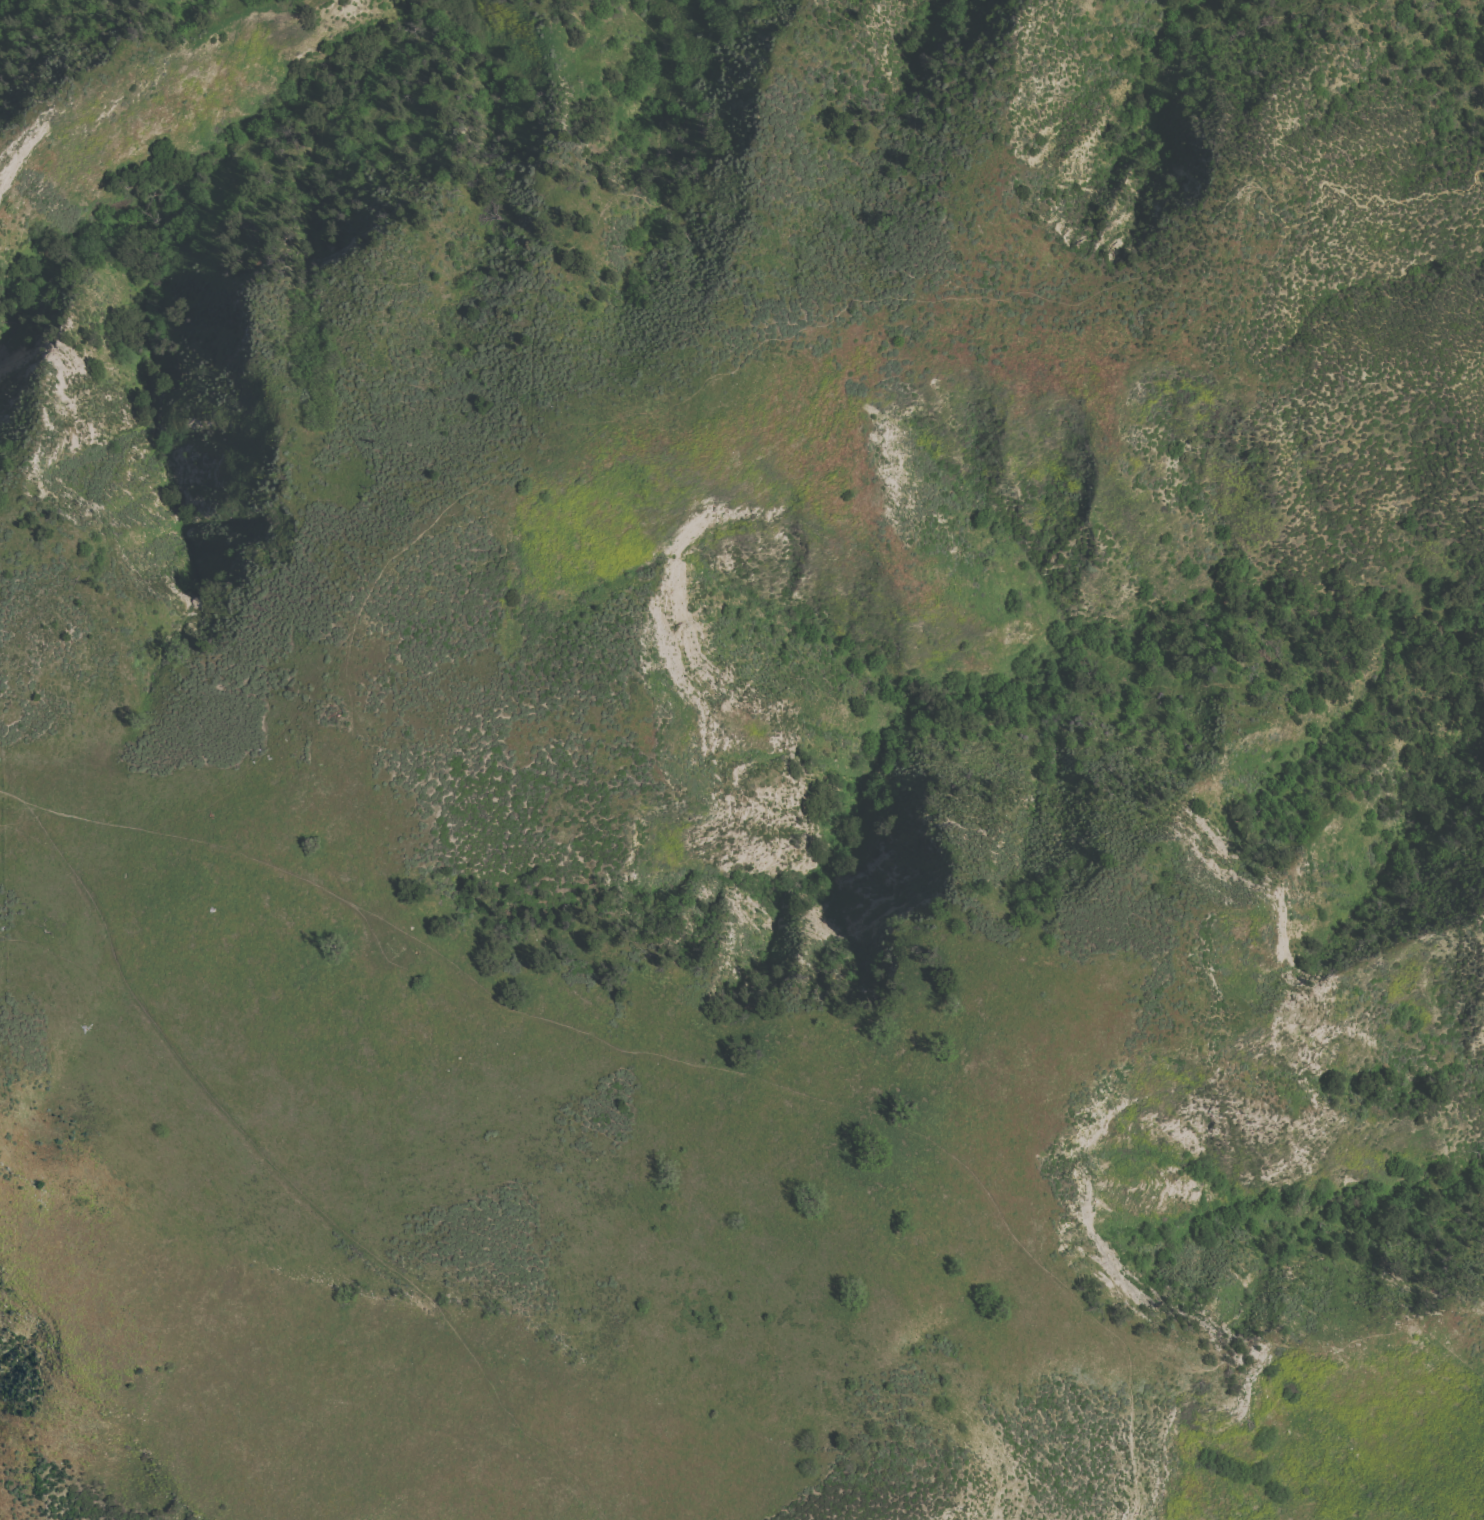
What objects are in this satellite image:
road: (673, 1058)
road: (258, 1149)

